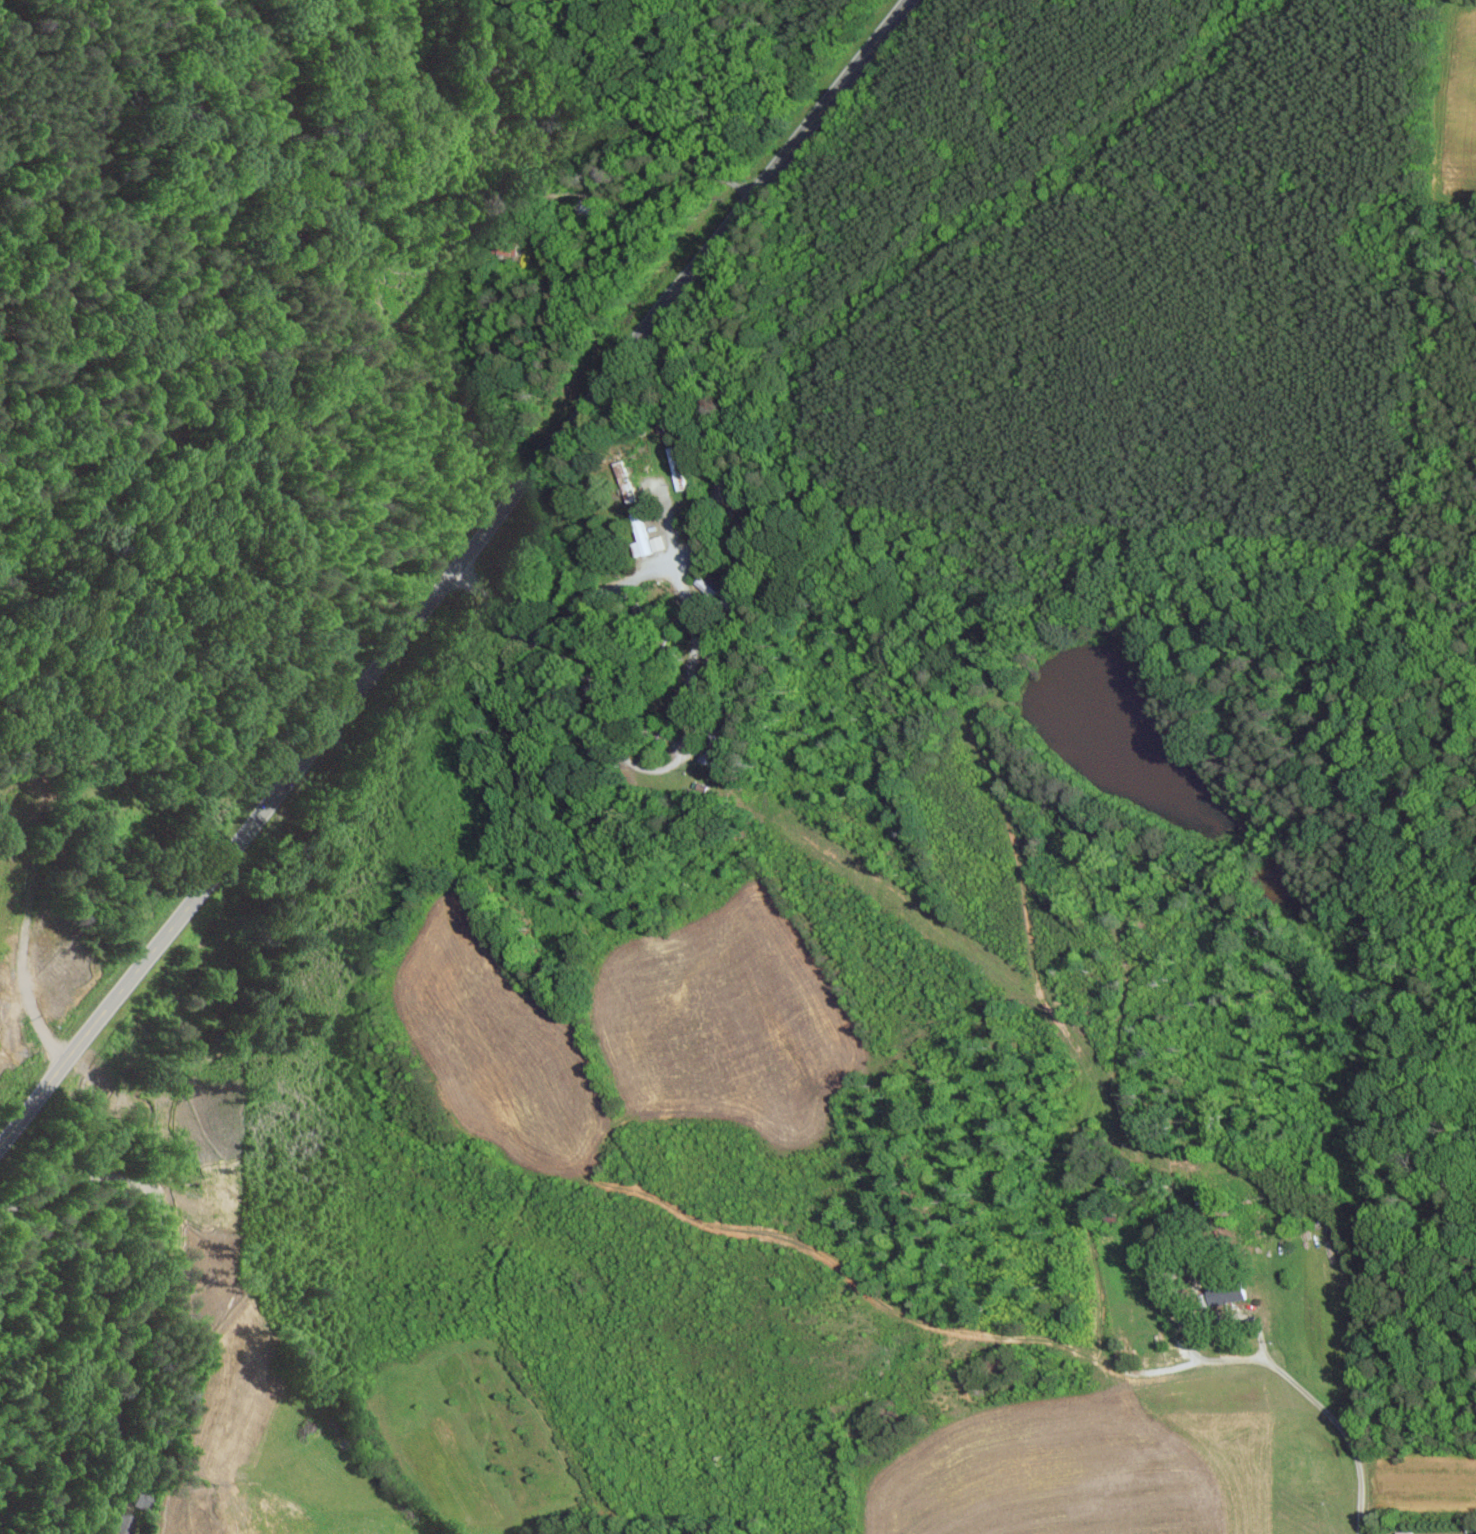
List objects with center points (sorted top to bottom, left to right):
road: (659, 164)
building: (588, 208)
building: (678, 467)
building: (649, 535)
road: (685, 547)
road: (453, 571)
road: (692, 692)
road: (30, 899)
building: (1238, 1291)
road: (1344, 1429)
building: (1407, 1532)

